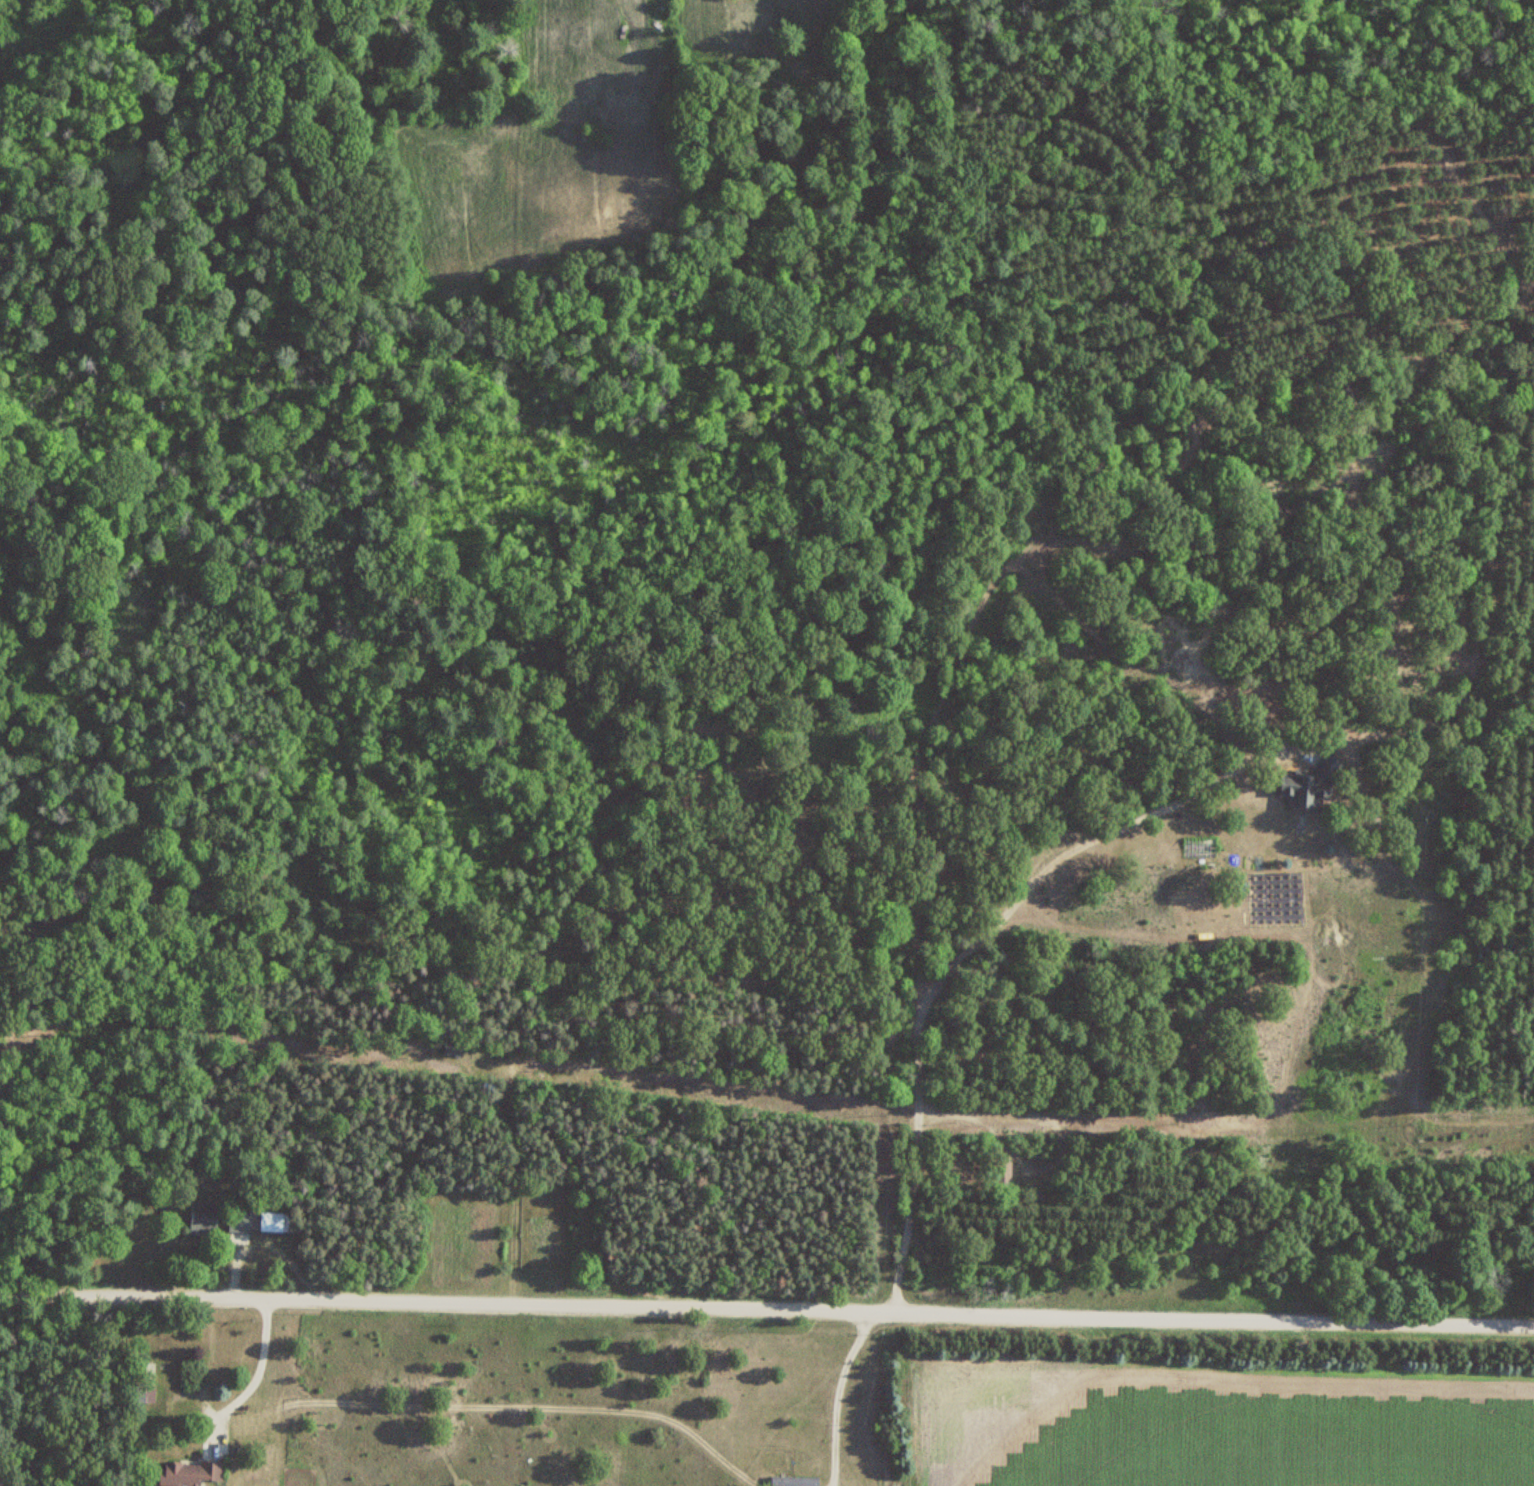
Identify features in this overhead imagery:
building: (1310, 784)
road: (980, 941)
building: (450, 1054)
building: (202, 1219)
building: (257, 1221)
road: (767, 1308)
building: (145, 1380)
road: (252, 1382)
building: (188, 1472)
building: (794, 1481)

